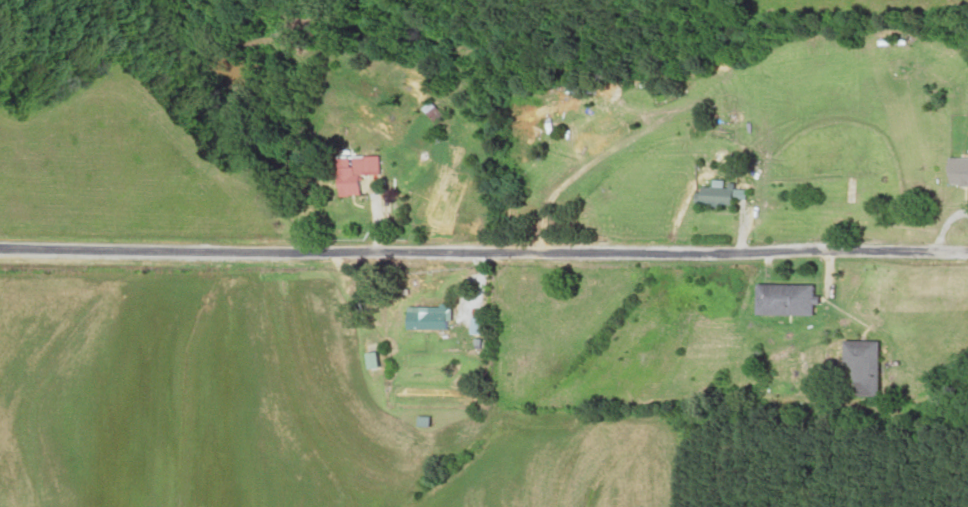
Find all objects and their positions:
building: (902, 42)
building: (627, 115)
building: (963, 171)
building: (364, 173)
building: (722, 194)
road: (483, 271)
building: (793, 299)
building: (435, 317)
building: (379, 359)
building: (873, 369)

